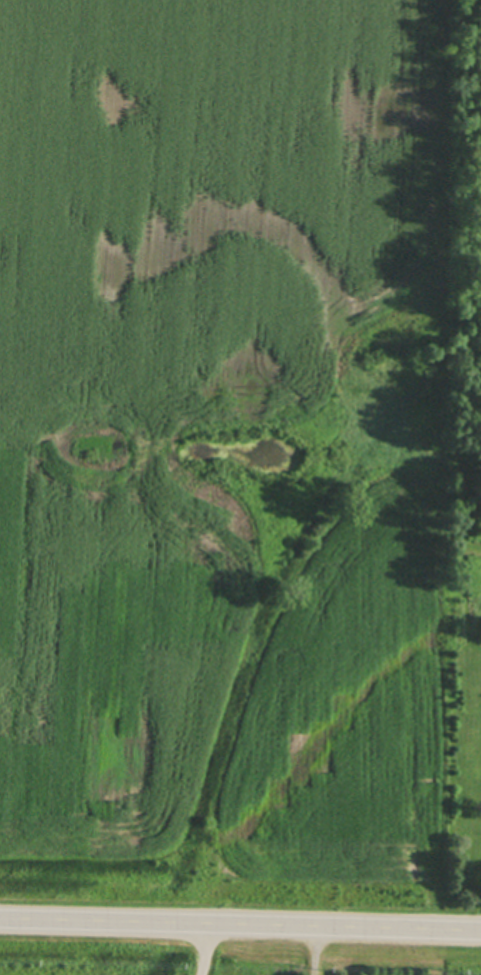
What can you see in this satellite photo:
road: (240, 925)
road: (201, 949)

